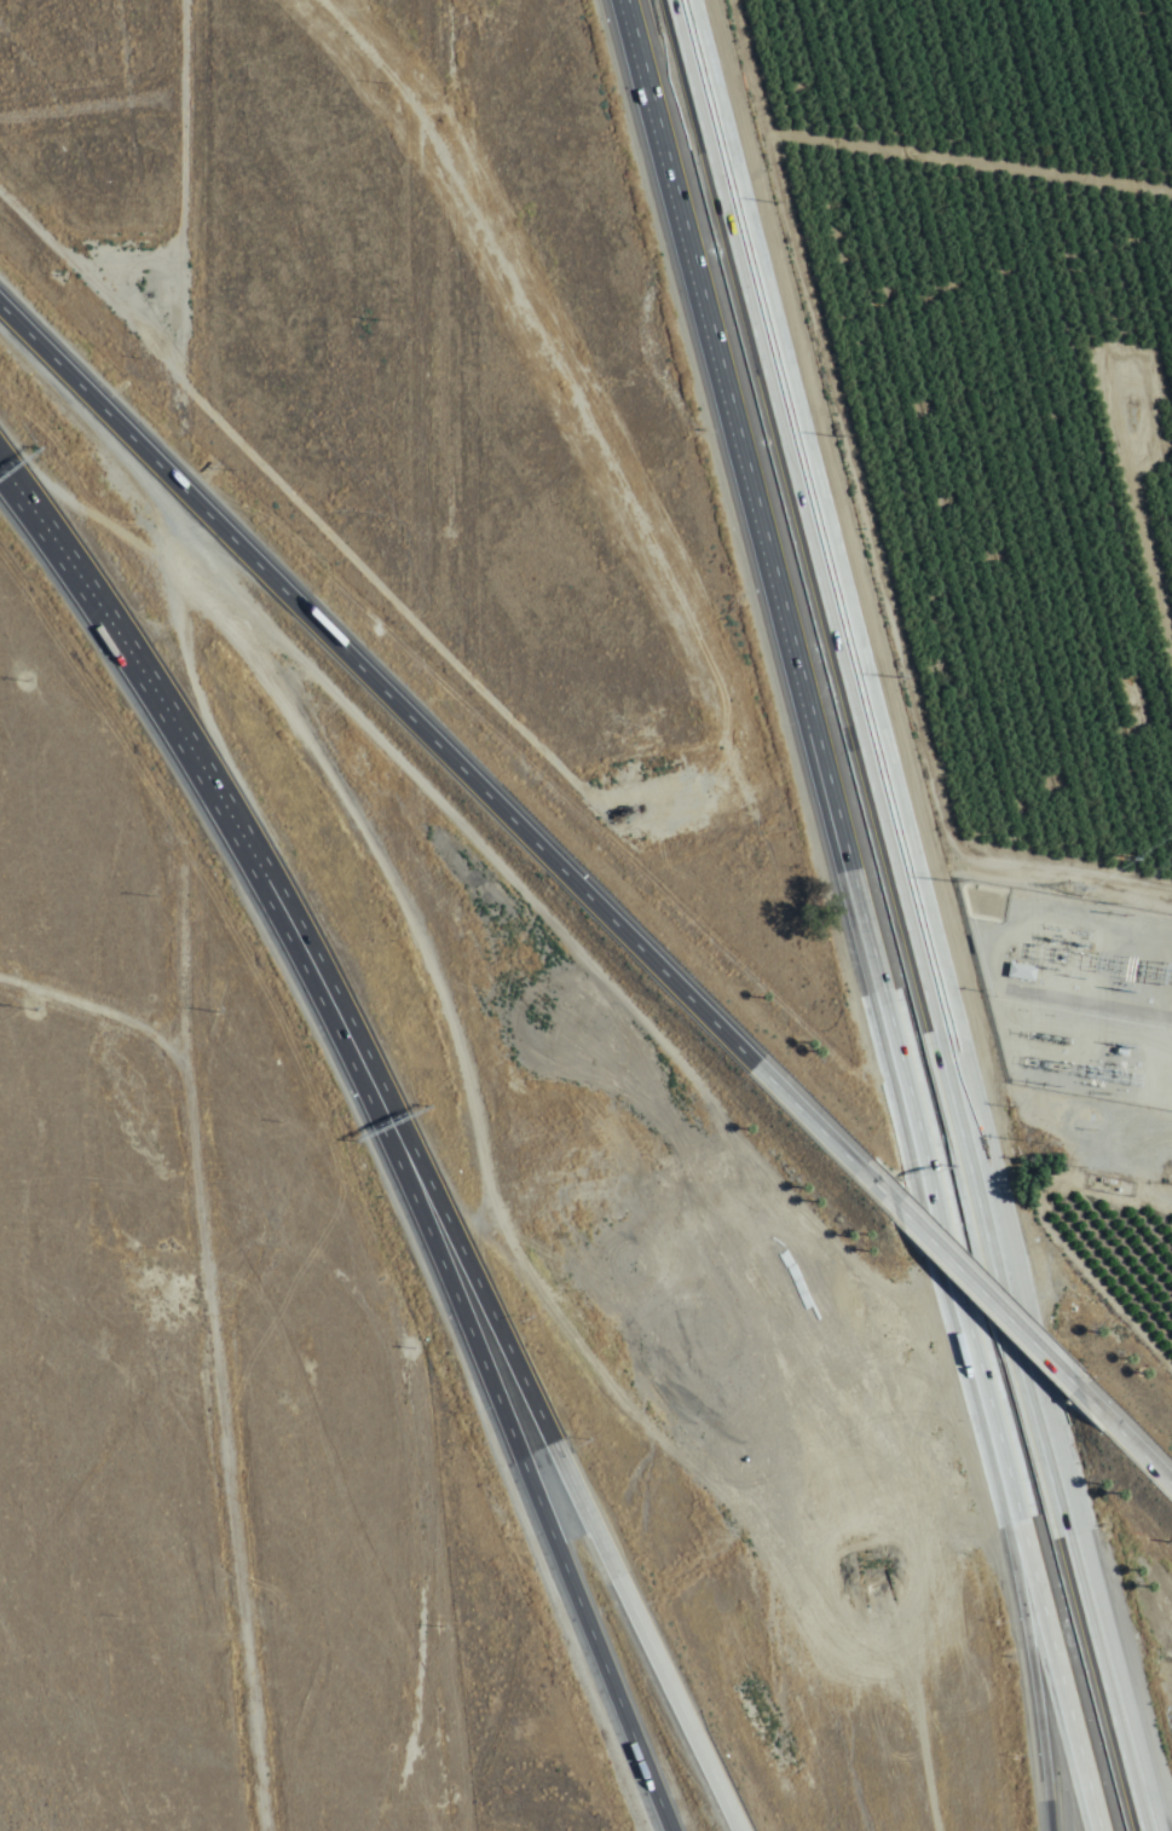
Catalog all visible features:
road: (1102, 168)
road: (396, 250)
road: (198, 258)
building: (744, 262)
building: (763, 334)
crop: (978, 375)
road: (798, 687)
road: (408, 712)
road: (198, 763)
road: (913, 915)
building: (1021, 972)
building: (310, 990)
road: (105, 1017)
road: (1133, 1107)
road: (994, 1298)
road: (560, 1451)
road: (519, 1454)
road: (227, 1459)
road: (1018, 1601)
road: (1039, 1602)
building: (1035, 1677)

